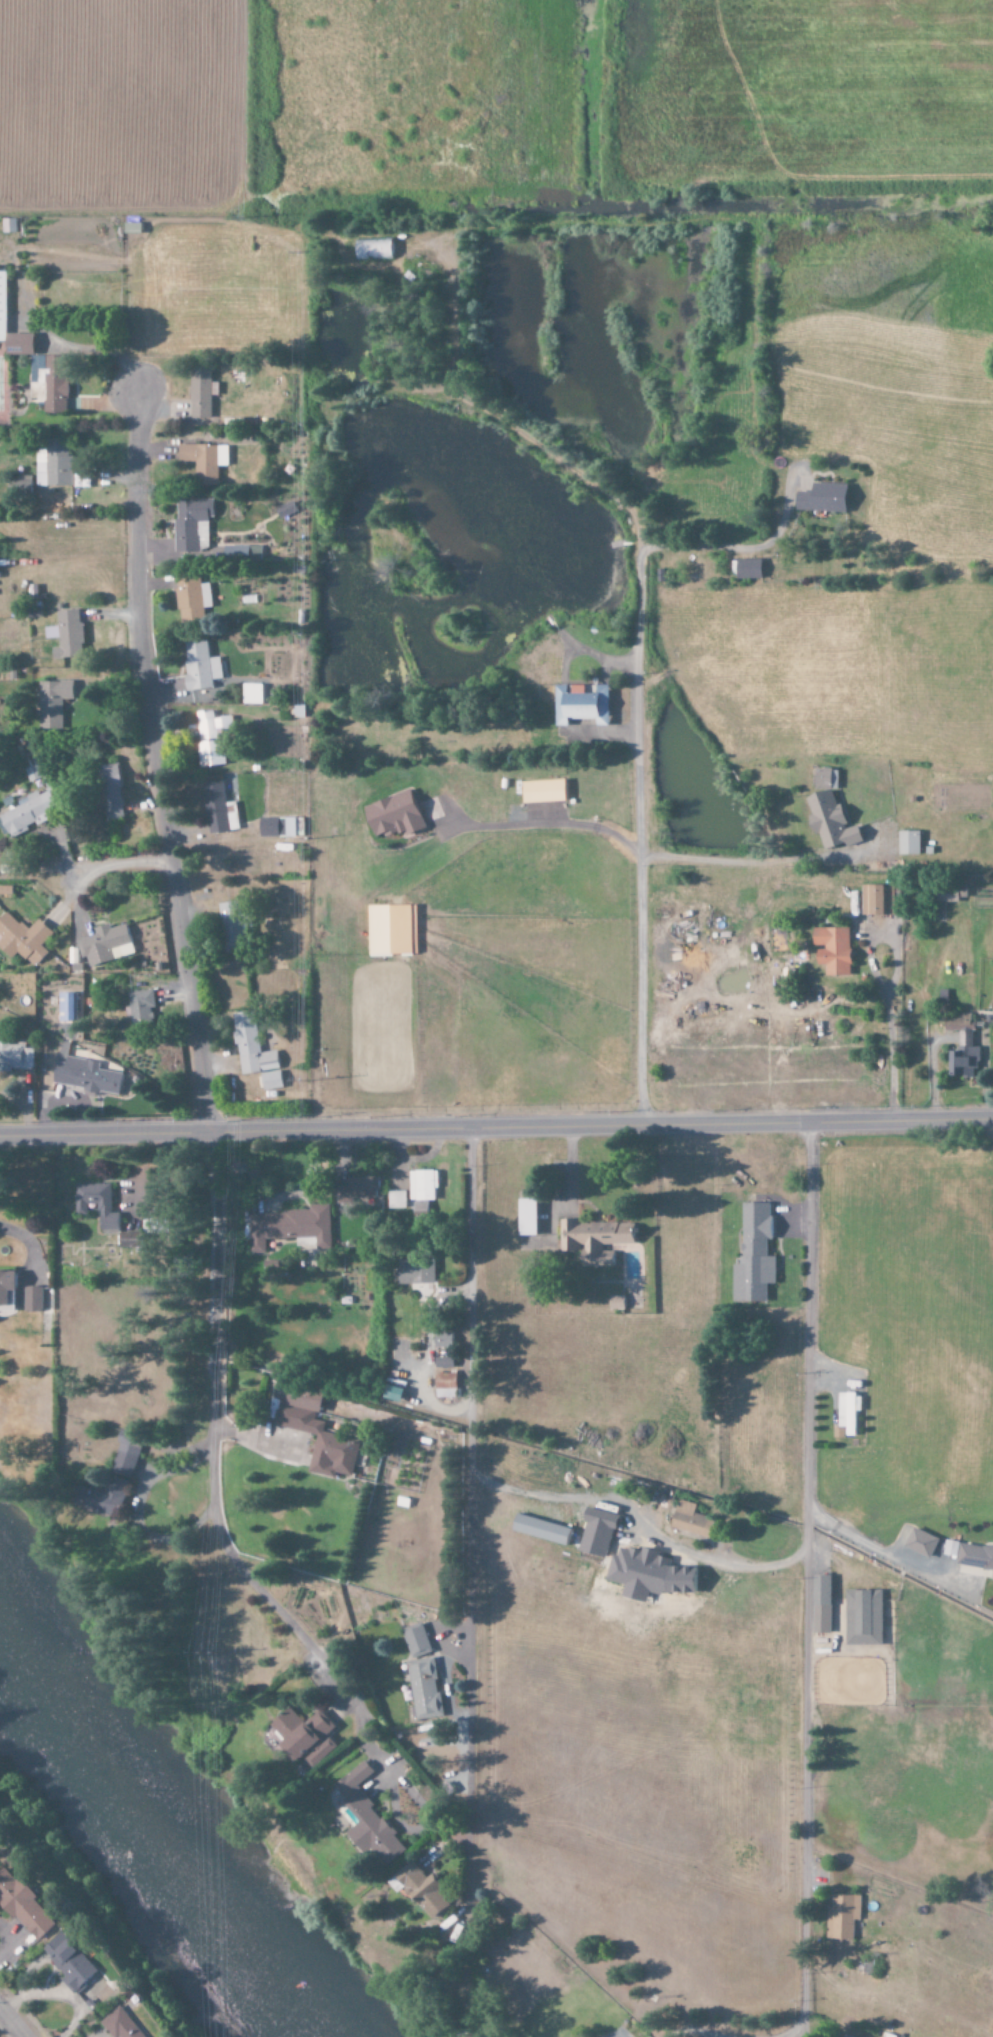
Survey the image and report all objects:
crop: (486, 101)
building: (11, 226)
building: (372, 249)
building: (5, 306)
building: (24, 344)
building: (52, 382)
building: (199, 393)
building: (203, 461)
building: (53, 464)
building: (821, 498)
building: (285, 510)
building: (189, 523)
building: (233, 553)
building: (746, 569)
building: (65, 635)
building: (199, 666)
building: (251, 694)
building: (51, 703)
building: (580, 704)
building: (207, 740)
road: (152, 759)
road: (634, 781)
building: (108, 791)
building: (542, 791)
building: (215, 807)
building: (827, 812)
building: (26, 814)
building: (392, 815)
building: (278, 827)
building: (907, 842)
road: (120, 865)
building: (946, 894)
building: (875, 900)
building: (229, 927)
building: (391, 930)
building: (22, 939)
building: (104, 945)
building: (832, 950)
building: (139, 1006)
building: (958, 1027)
building: (250, 1046)
building: (15, 1057)
building: (962, 1062)
building: (84, 1076)
building: (270, 1080)
road: (496, 1127)
building: (421, 1185)
building: (358, 1190)
building: (395, 1200)
building: (97, 1205)
building: (525, 1218)
building: (288, 1227)
building: (129, 1240)
building: (593, 1240)
building: (752, 1256)
building: (414, 1272)
building: (7, 1286)
building: (35, 1299)
building: (615, 1303)
building: (442, 1340)
building: (442, 1363)
building: (444, 1386)
building: (846, 1415)
building: (316, 1434)
building: (111, 1481)
road: (469, 1486)
building: (688, 1520)
building: (595, 1533)
building: (919, 1544)
building: (971, 1555)
road: (229, 1559)
building: (973, 1572)
building: (646, 1575)
road: (803, 1580)
building: (819, 1605)
building: (861, 1618)
building: (415, 1641)
building: (422, 1689)
building: (304, 1737)
building: (368, 1819)
river: (148, 1843)
building: (23, 1905)
building: (841, 1916)
building: (67, 1962)
road: (10, 2024)
building: (120, 2024)
building: (842, 2036)

